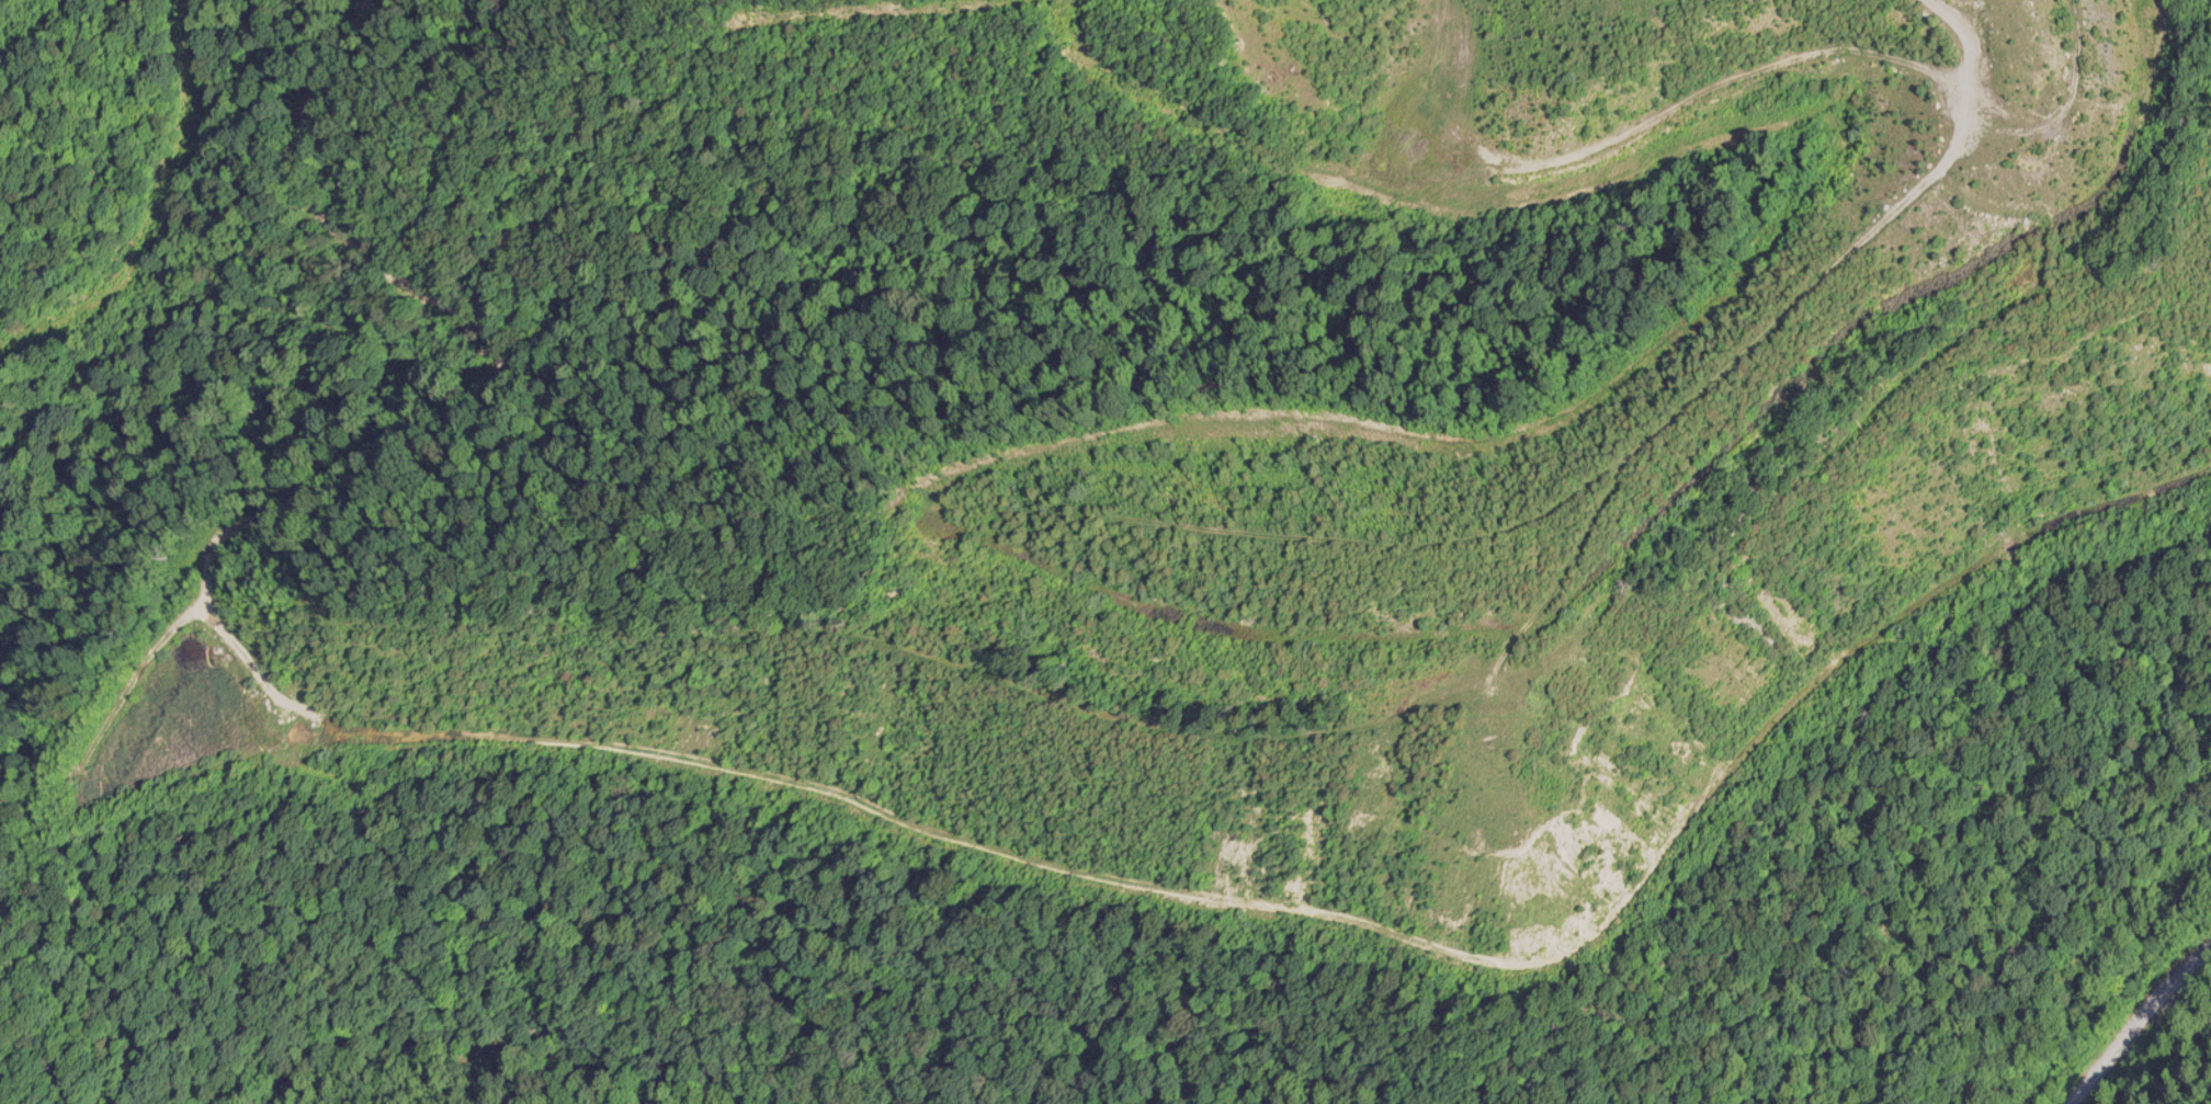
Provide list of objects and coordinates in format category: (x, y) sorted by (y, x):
building: (1712, 10)
quarry: (1104, 431)
road: (2136, 1017)

